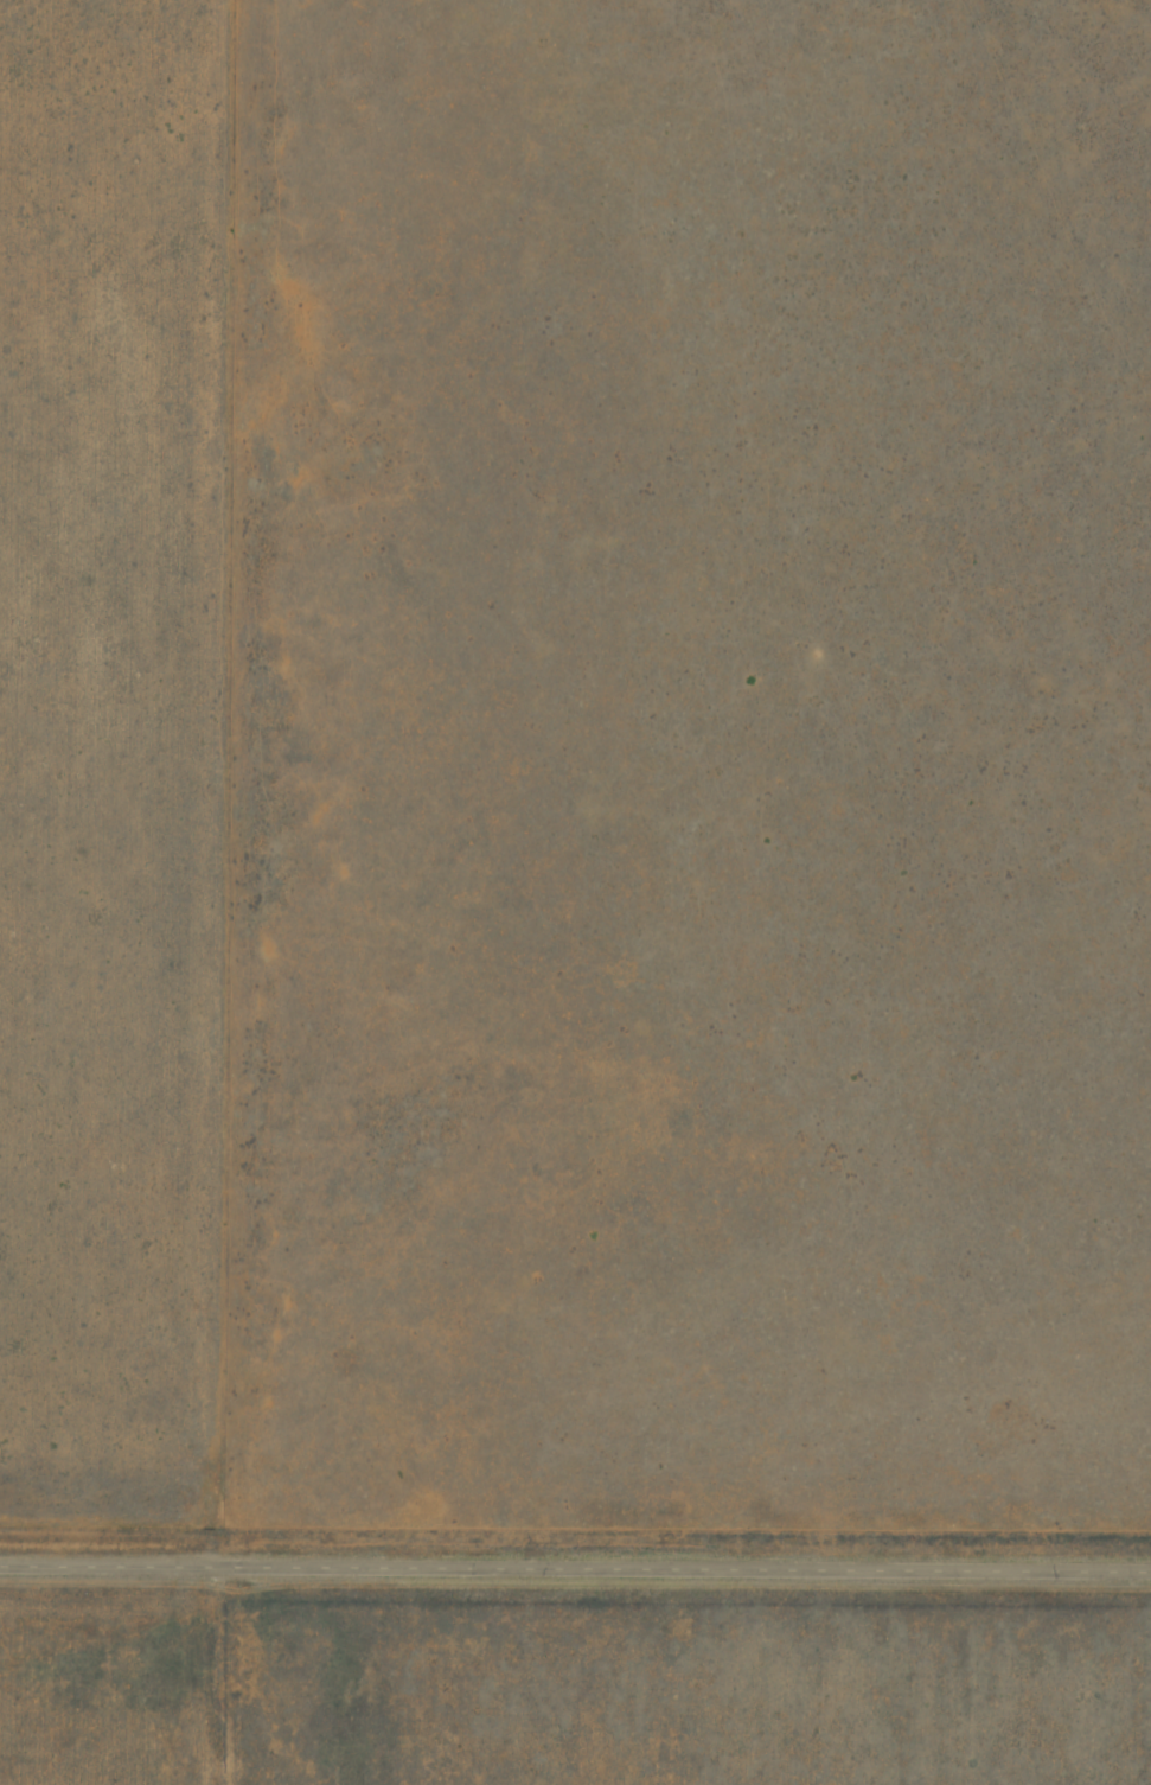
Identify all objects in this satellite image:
road: (575, 1574)

